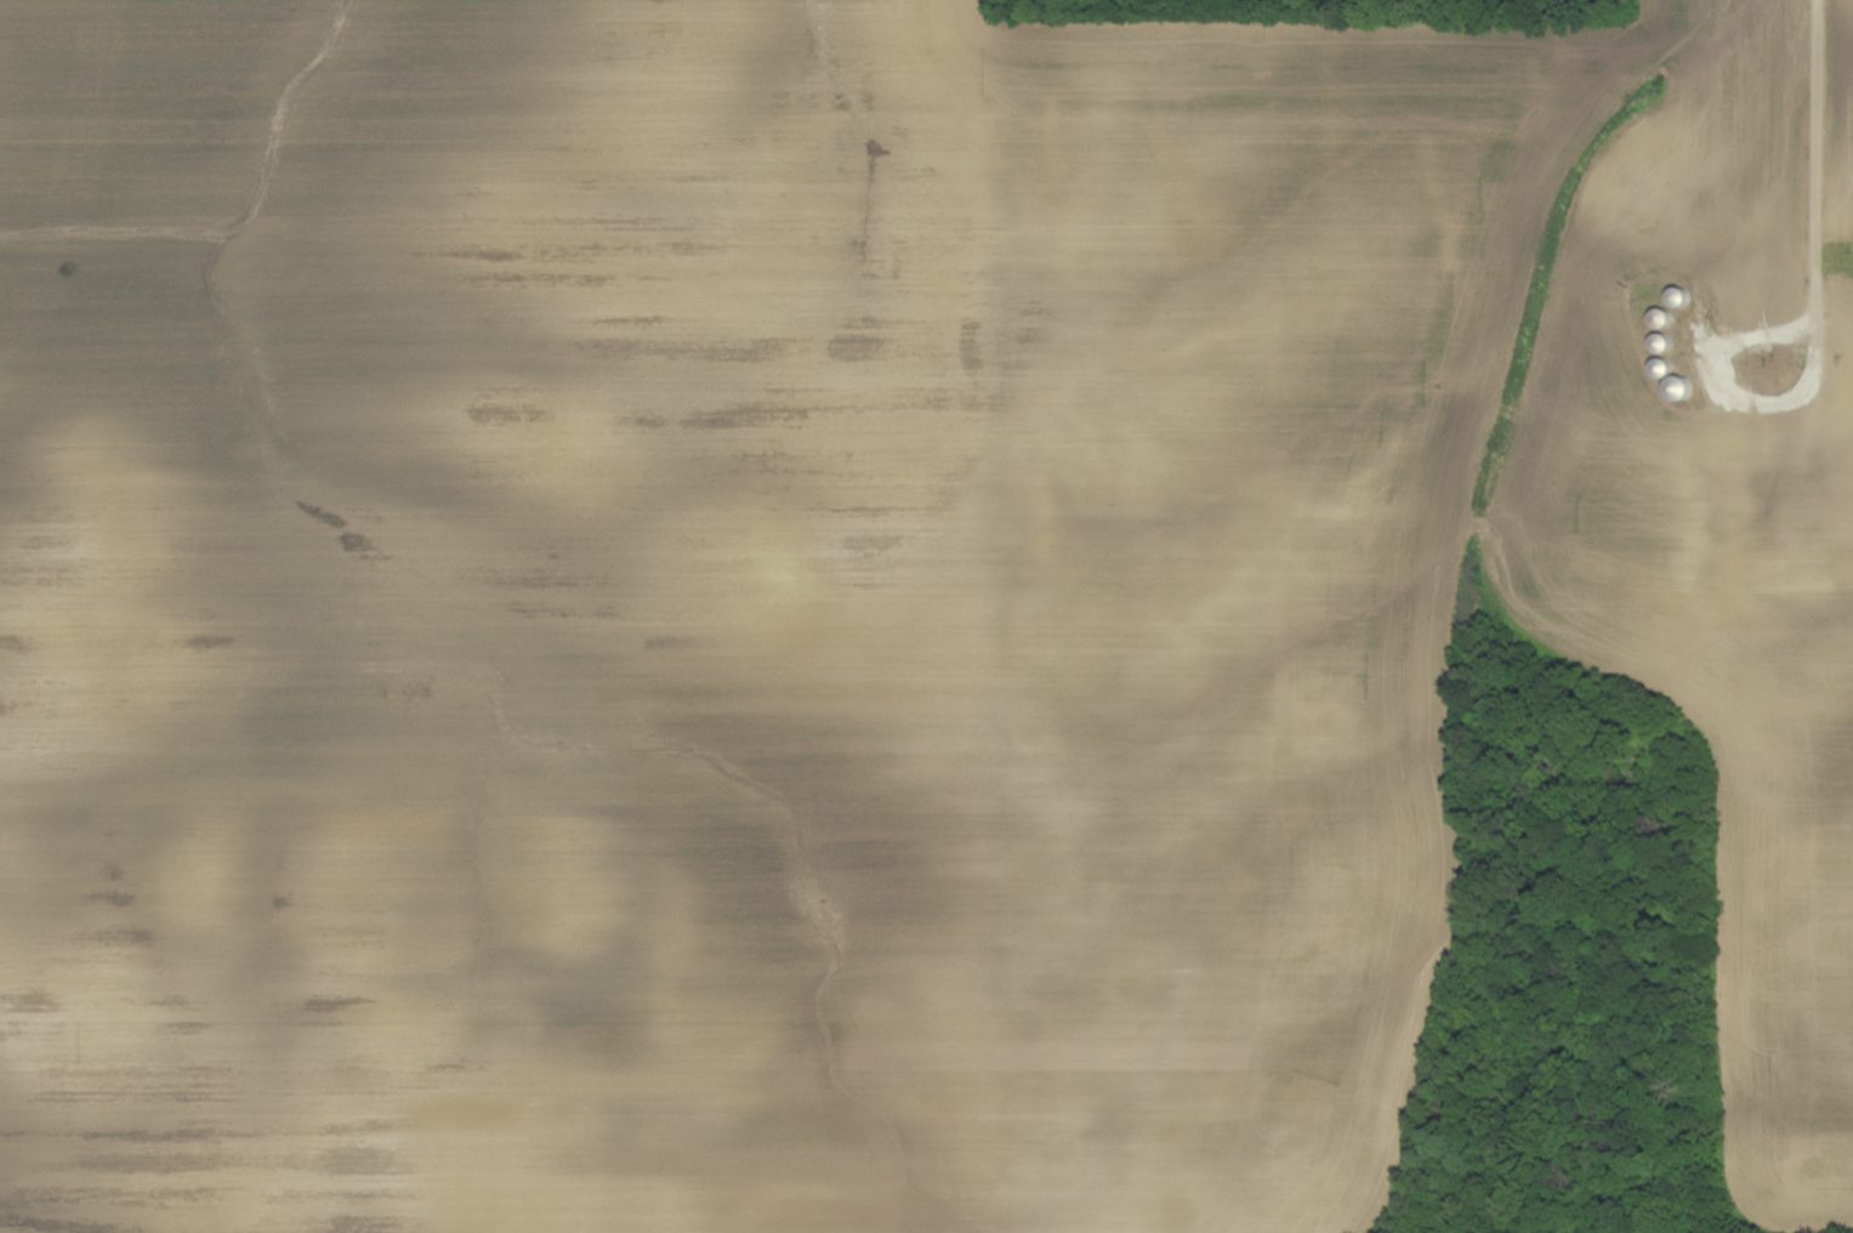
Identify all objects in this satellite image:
road: (1818, 160)
building: (1664, 320)
building: (1664, 345)
building: (1664, 369)
building: (1681, 390)
road: (1730, 399)

